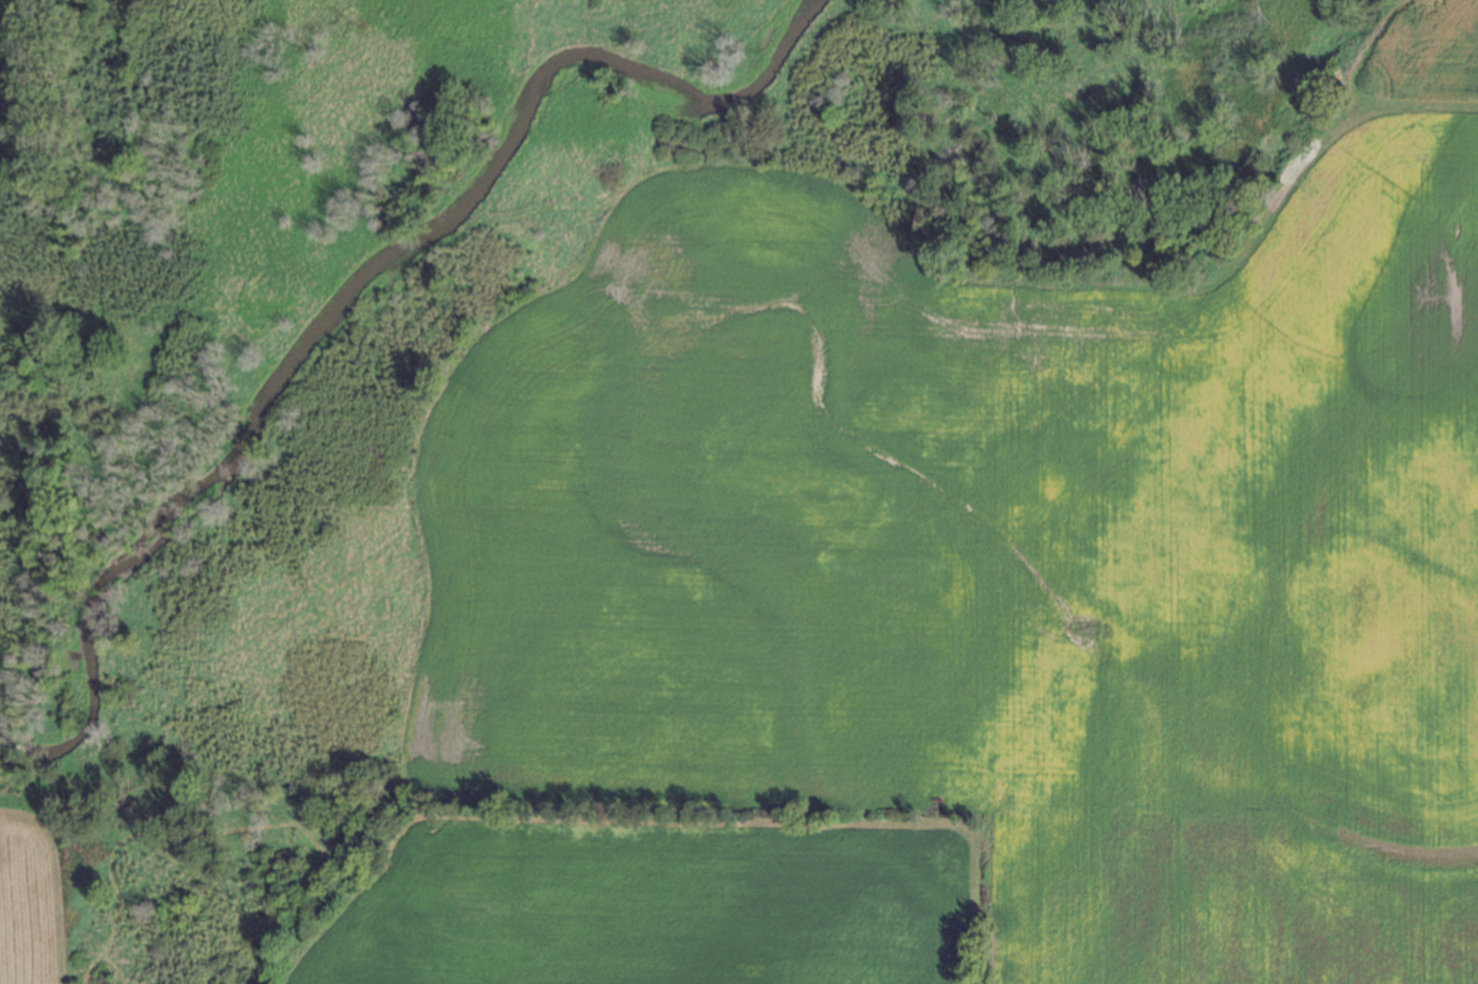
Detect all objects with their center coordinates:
river: (631, 78)
river: (223, 455)

